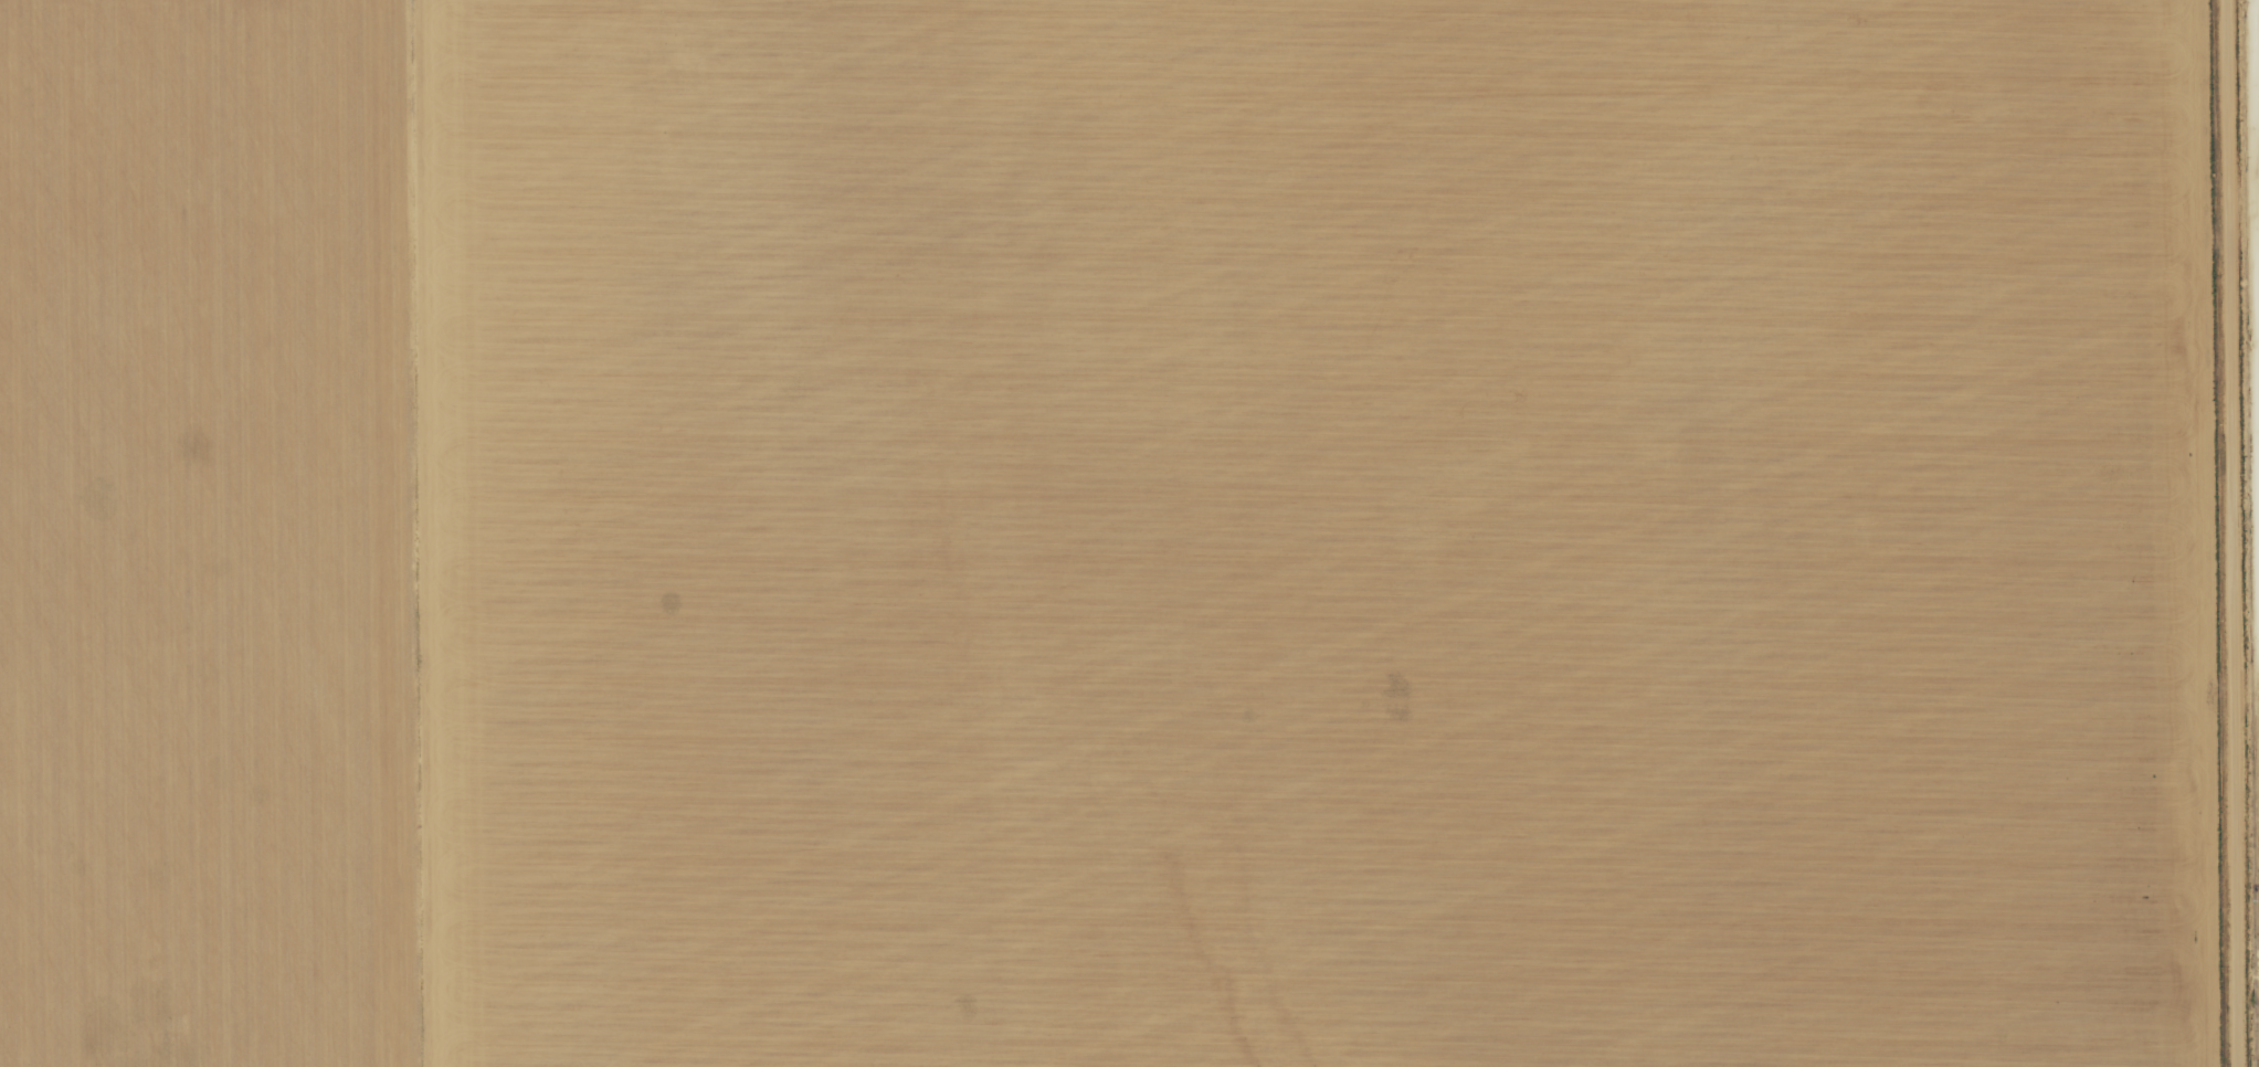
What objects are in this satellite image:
road: (2257, 260)
road: (2230, 532)

